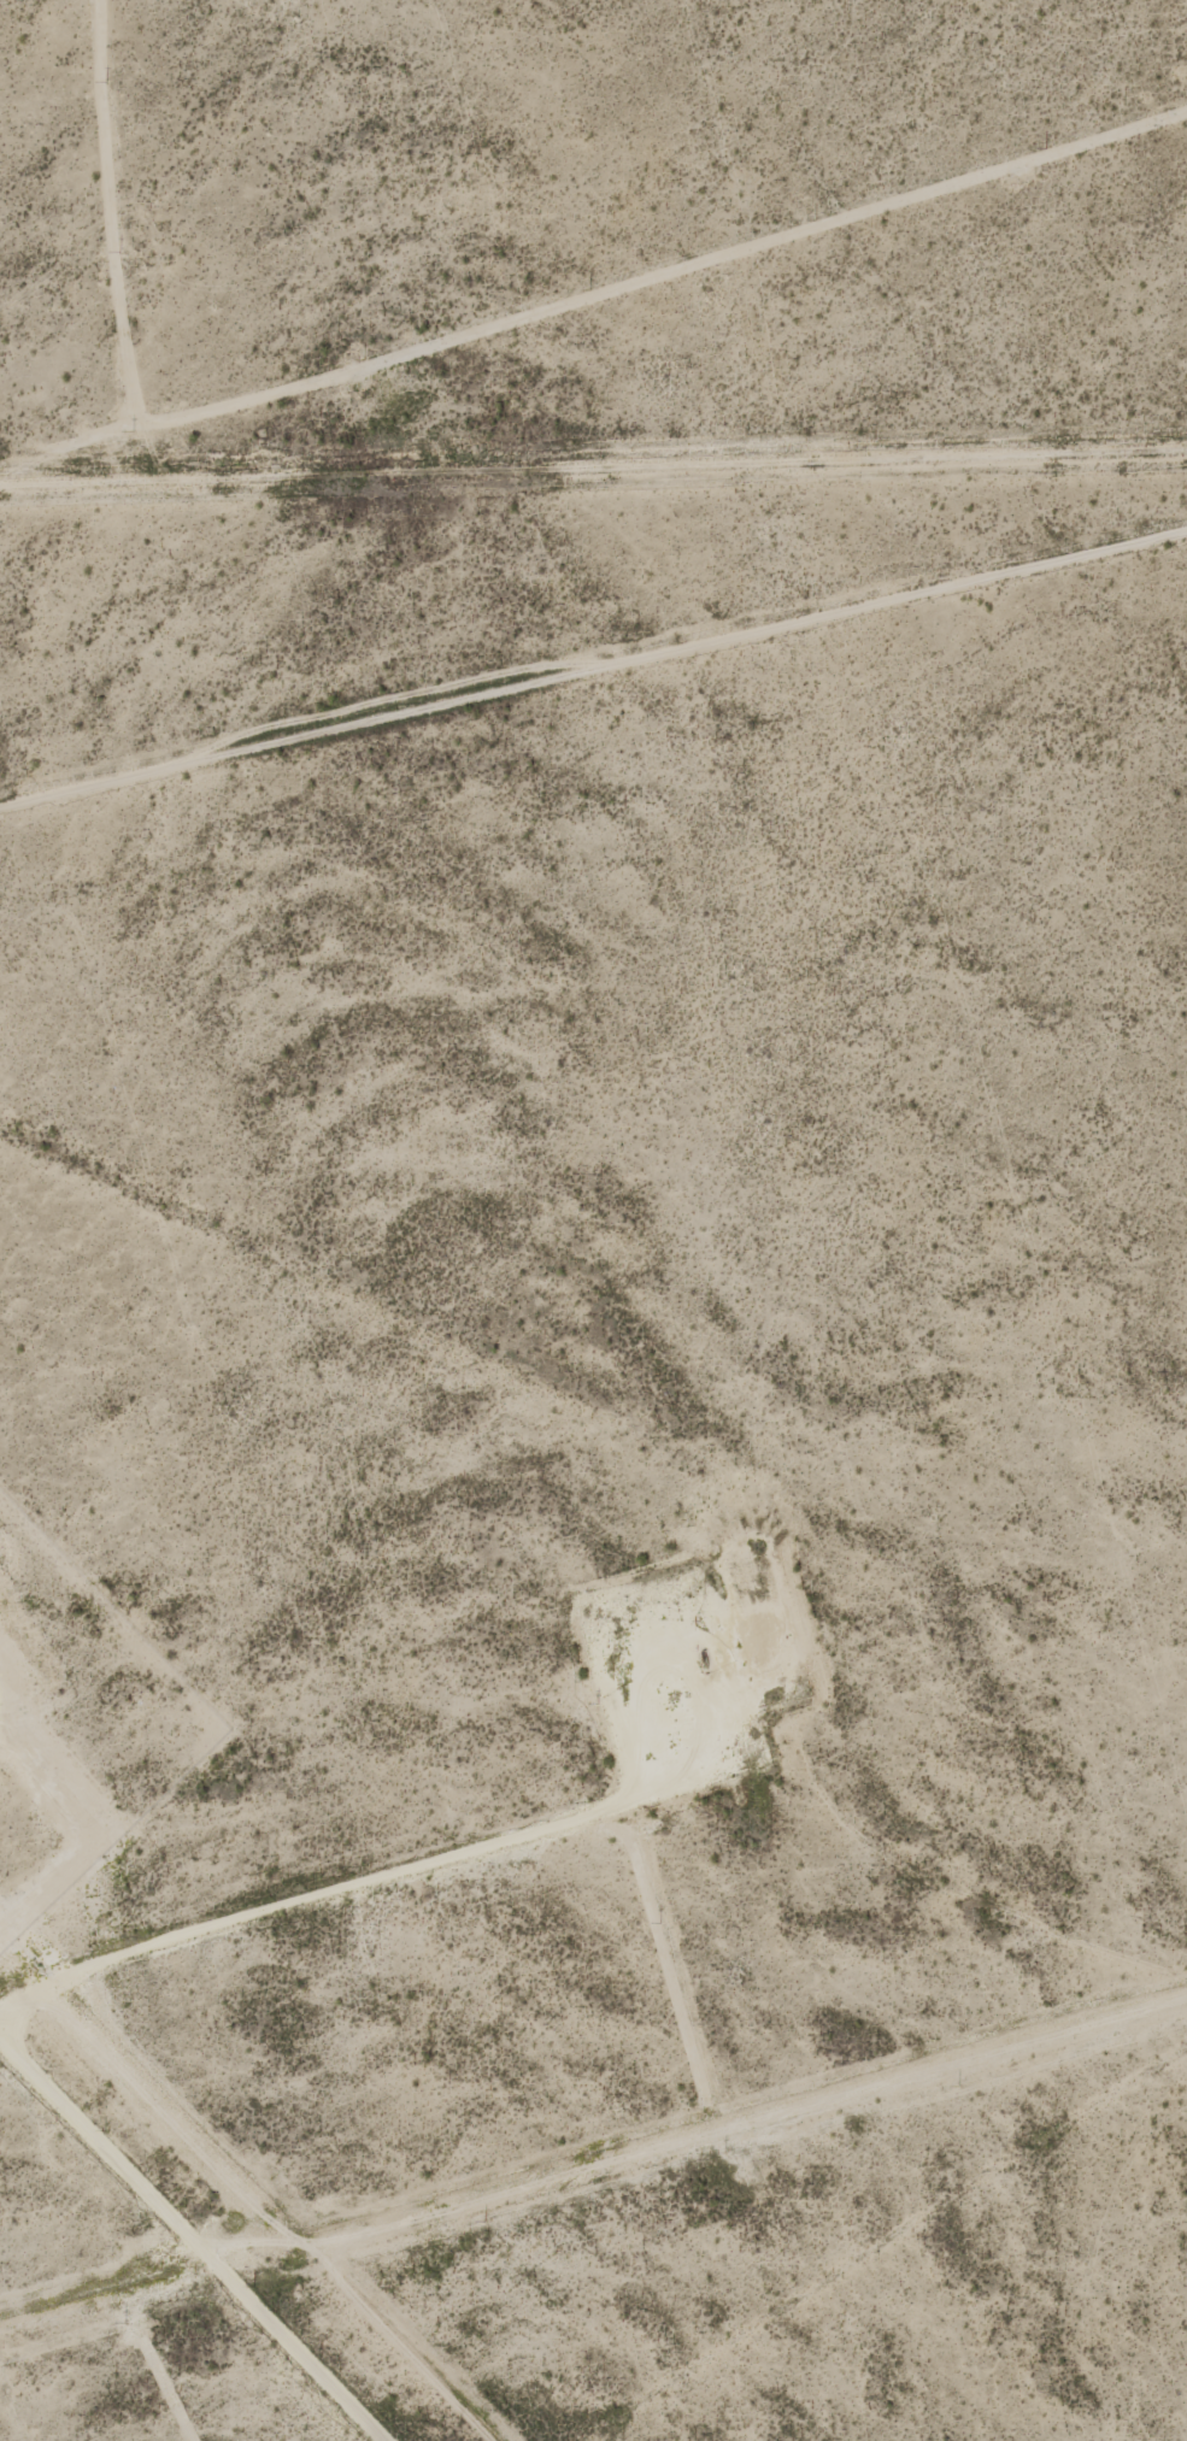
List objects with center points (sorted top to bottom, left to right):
road: (194, 2239)

